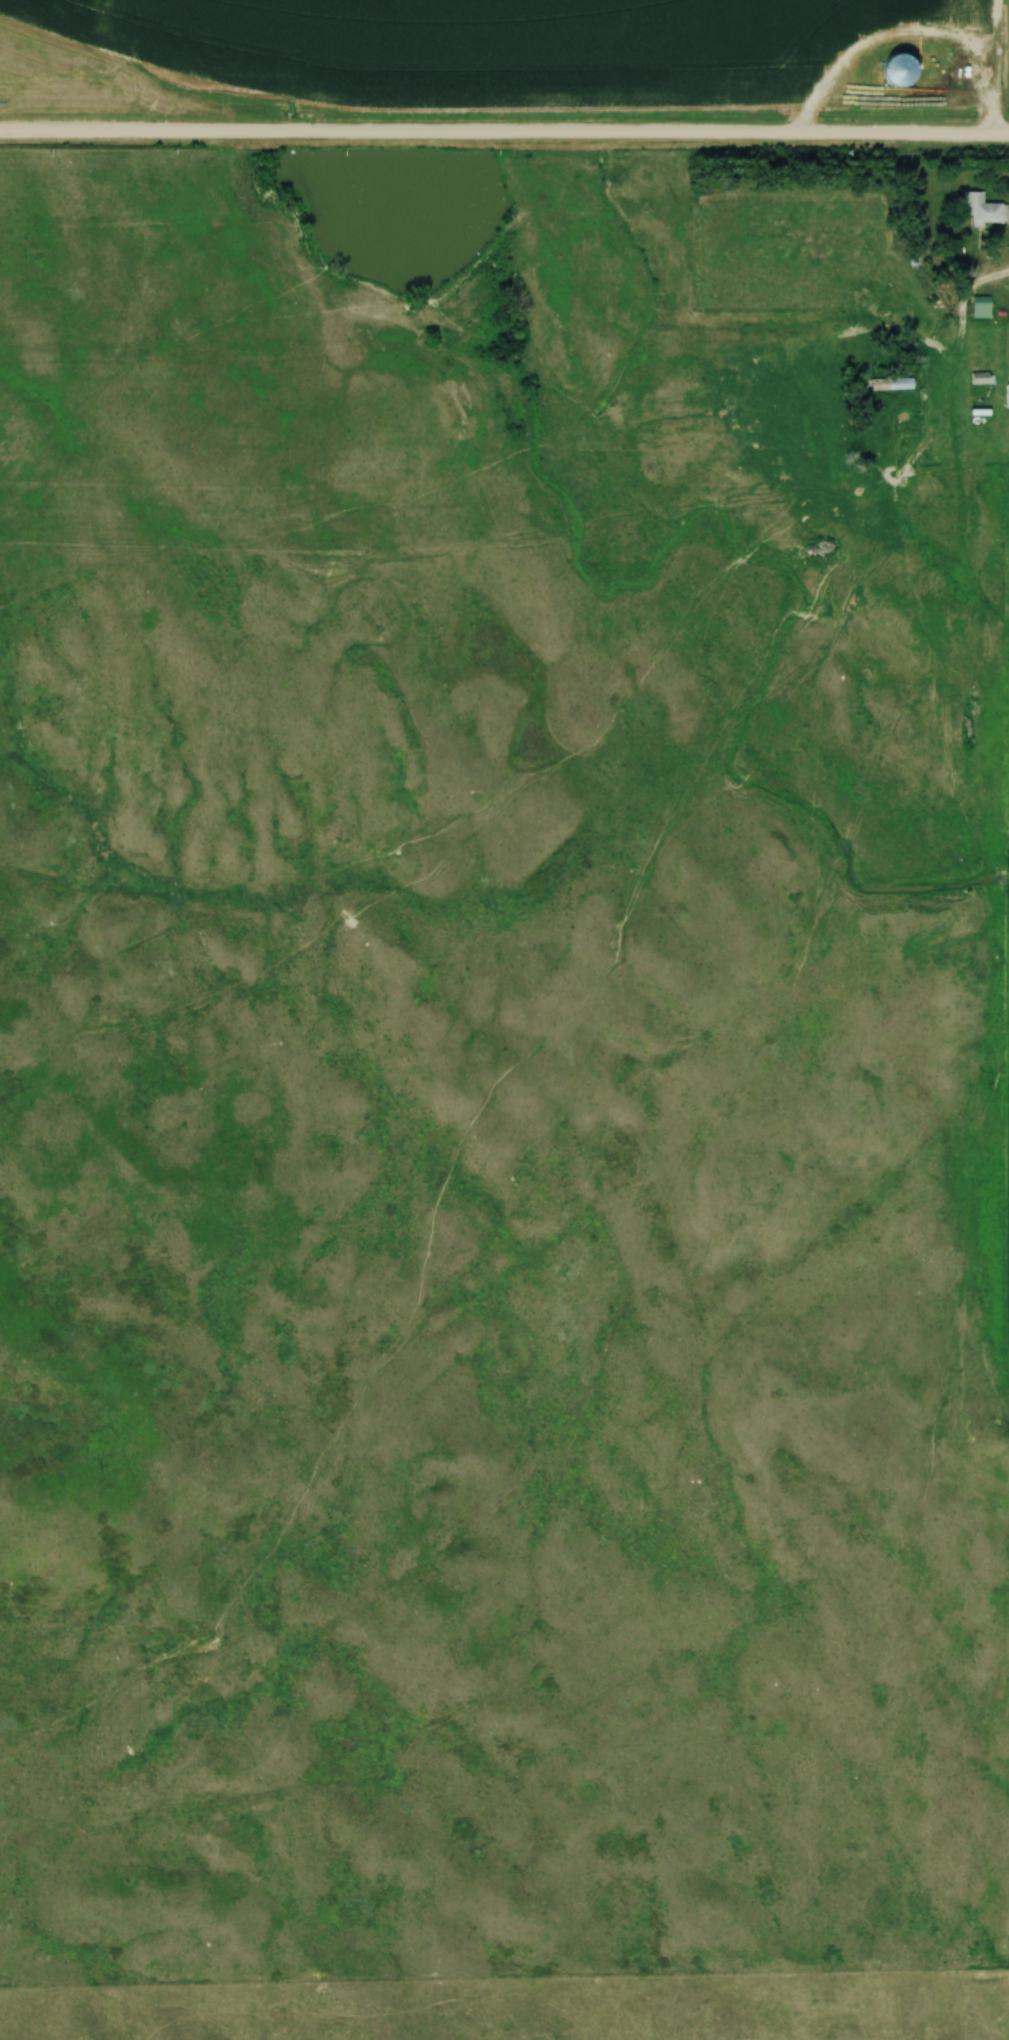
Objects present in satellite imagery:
road: (504, 133)
building: (981, 210)
road: (1007, 281)
building: (980, 308)
building: (1006, 397)

